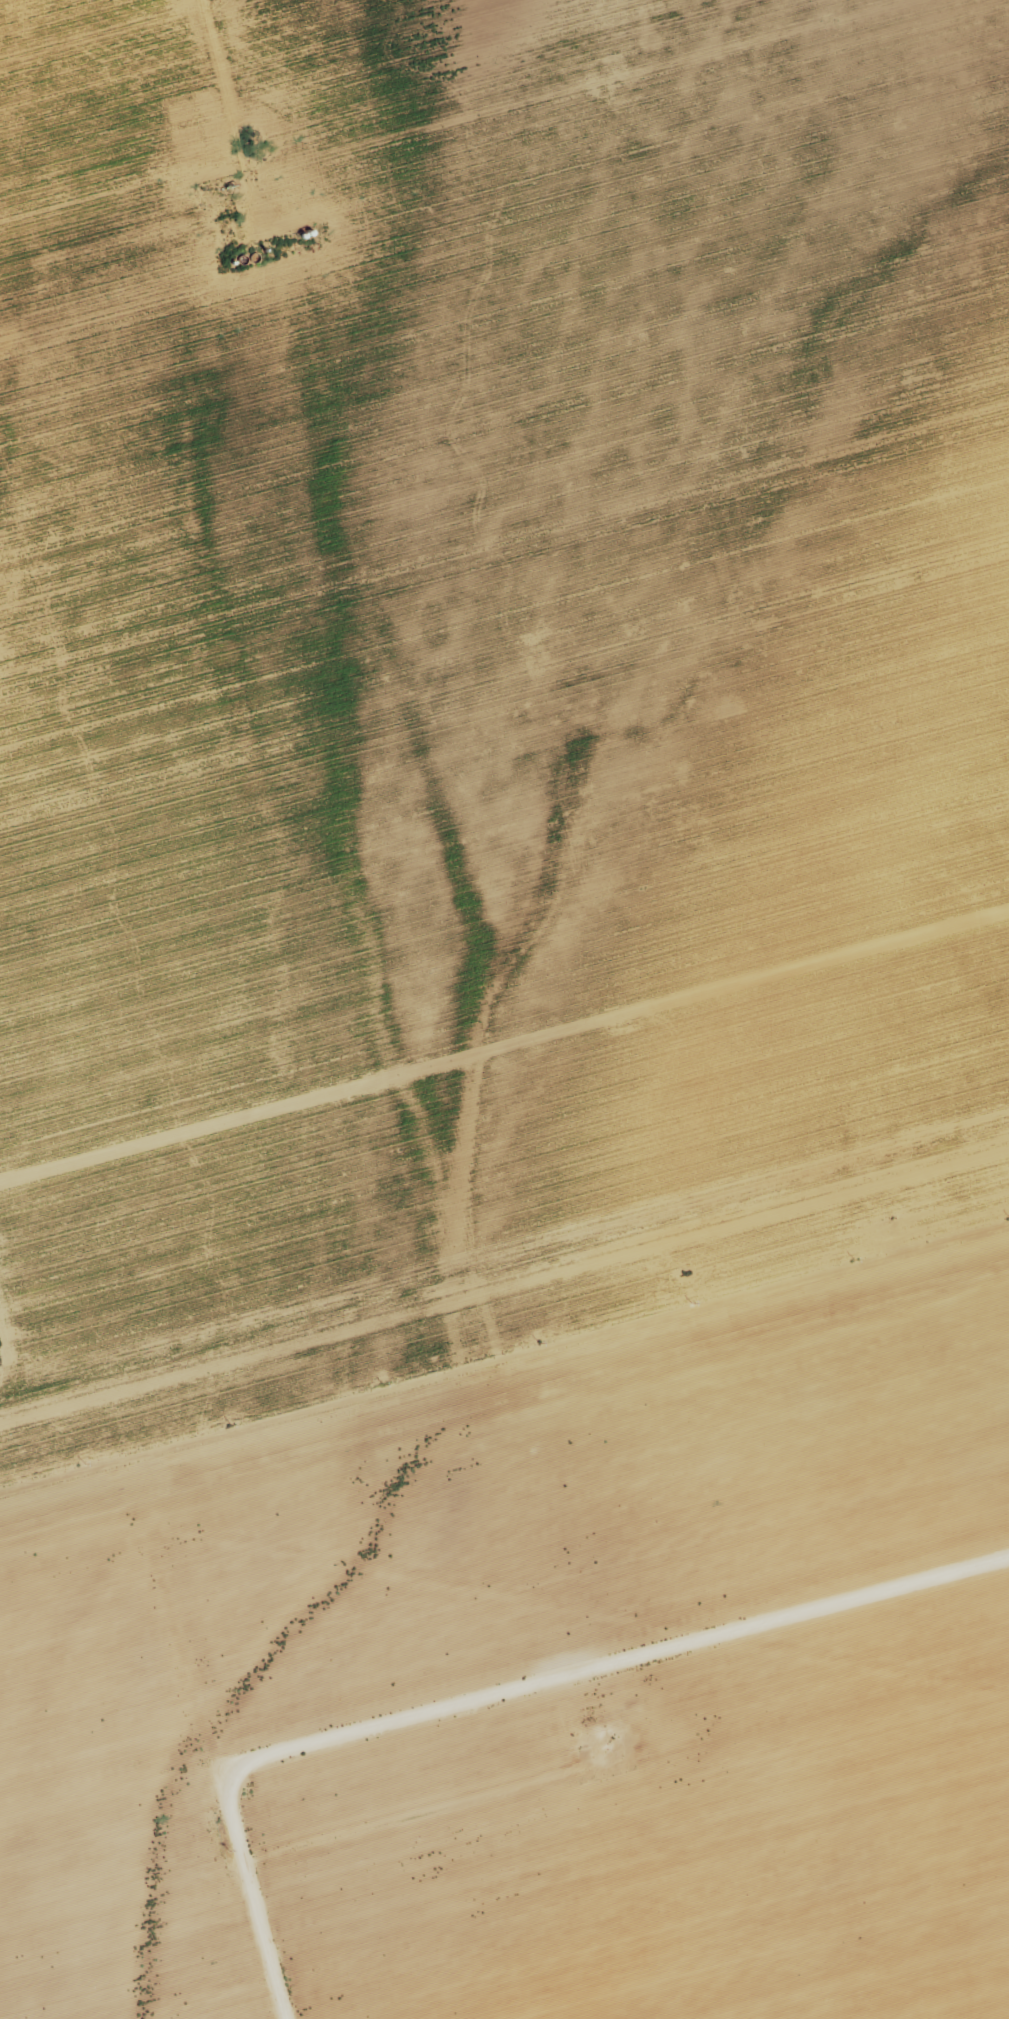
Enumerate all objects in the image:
road: (363, 1832)

